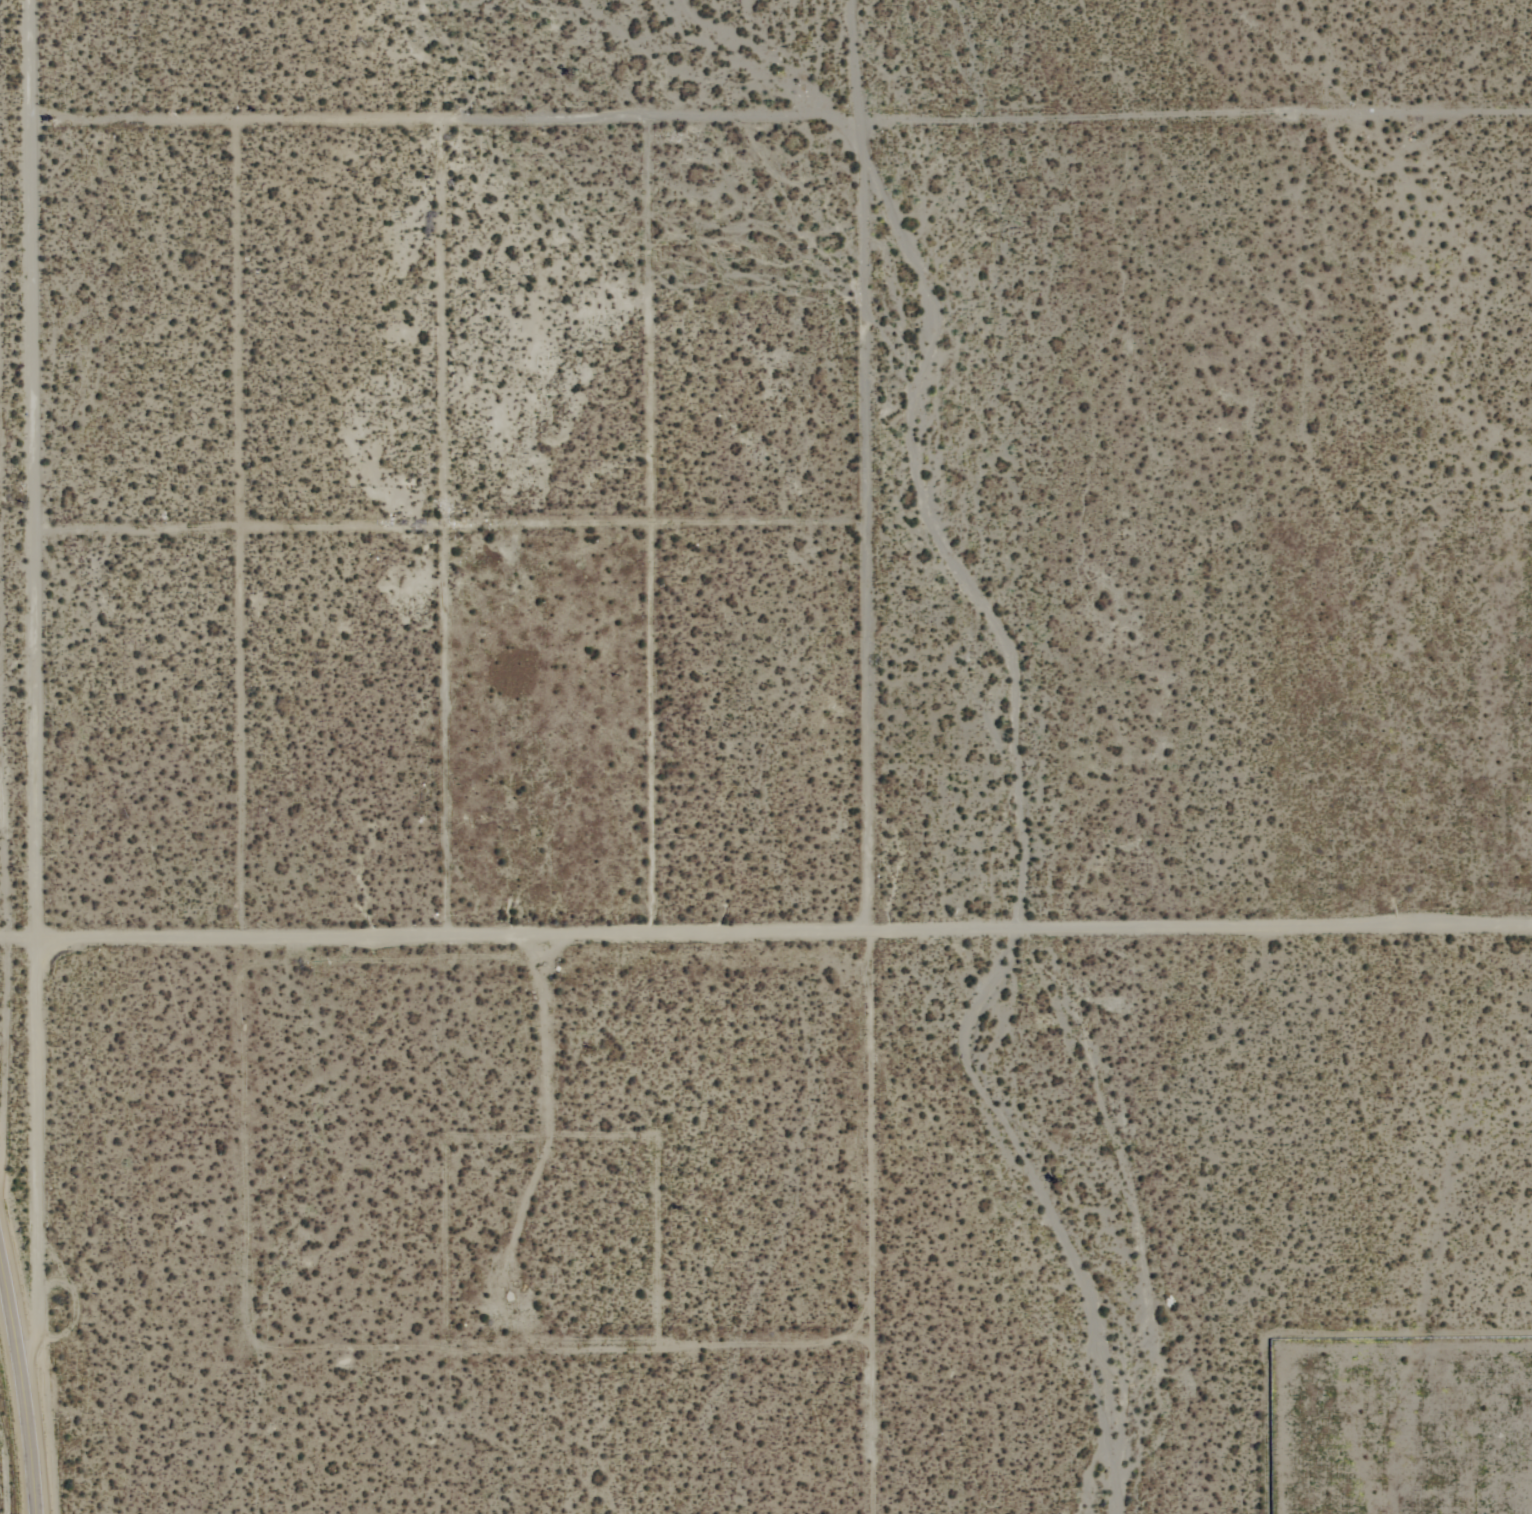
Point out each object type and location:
road: (859, 59)
road: (864, 480)
road: (765, 944)
road: (24, 1381)

